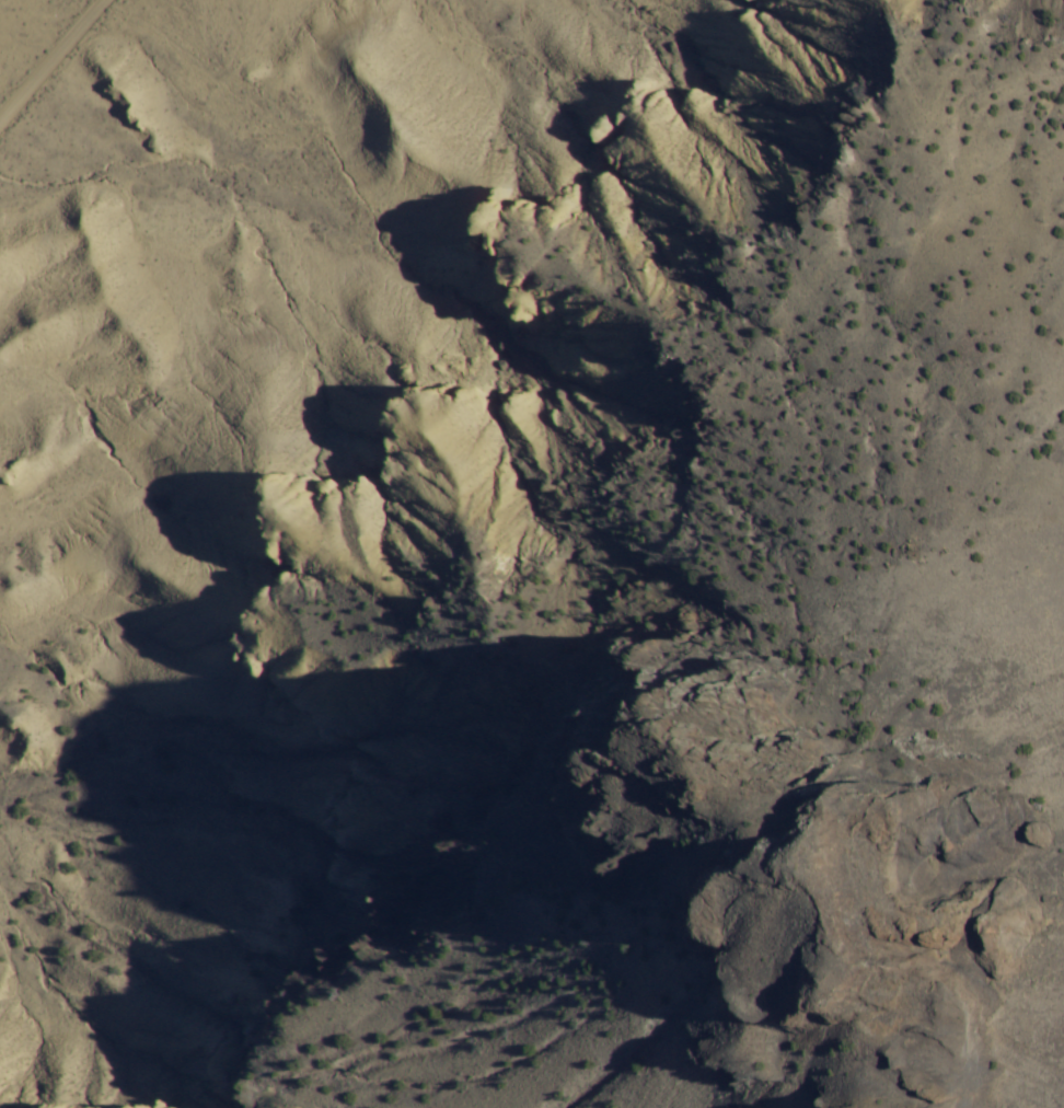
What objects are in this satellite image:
road: (48, 55)

